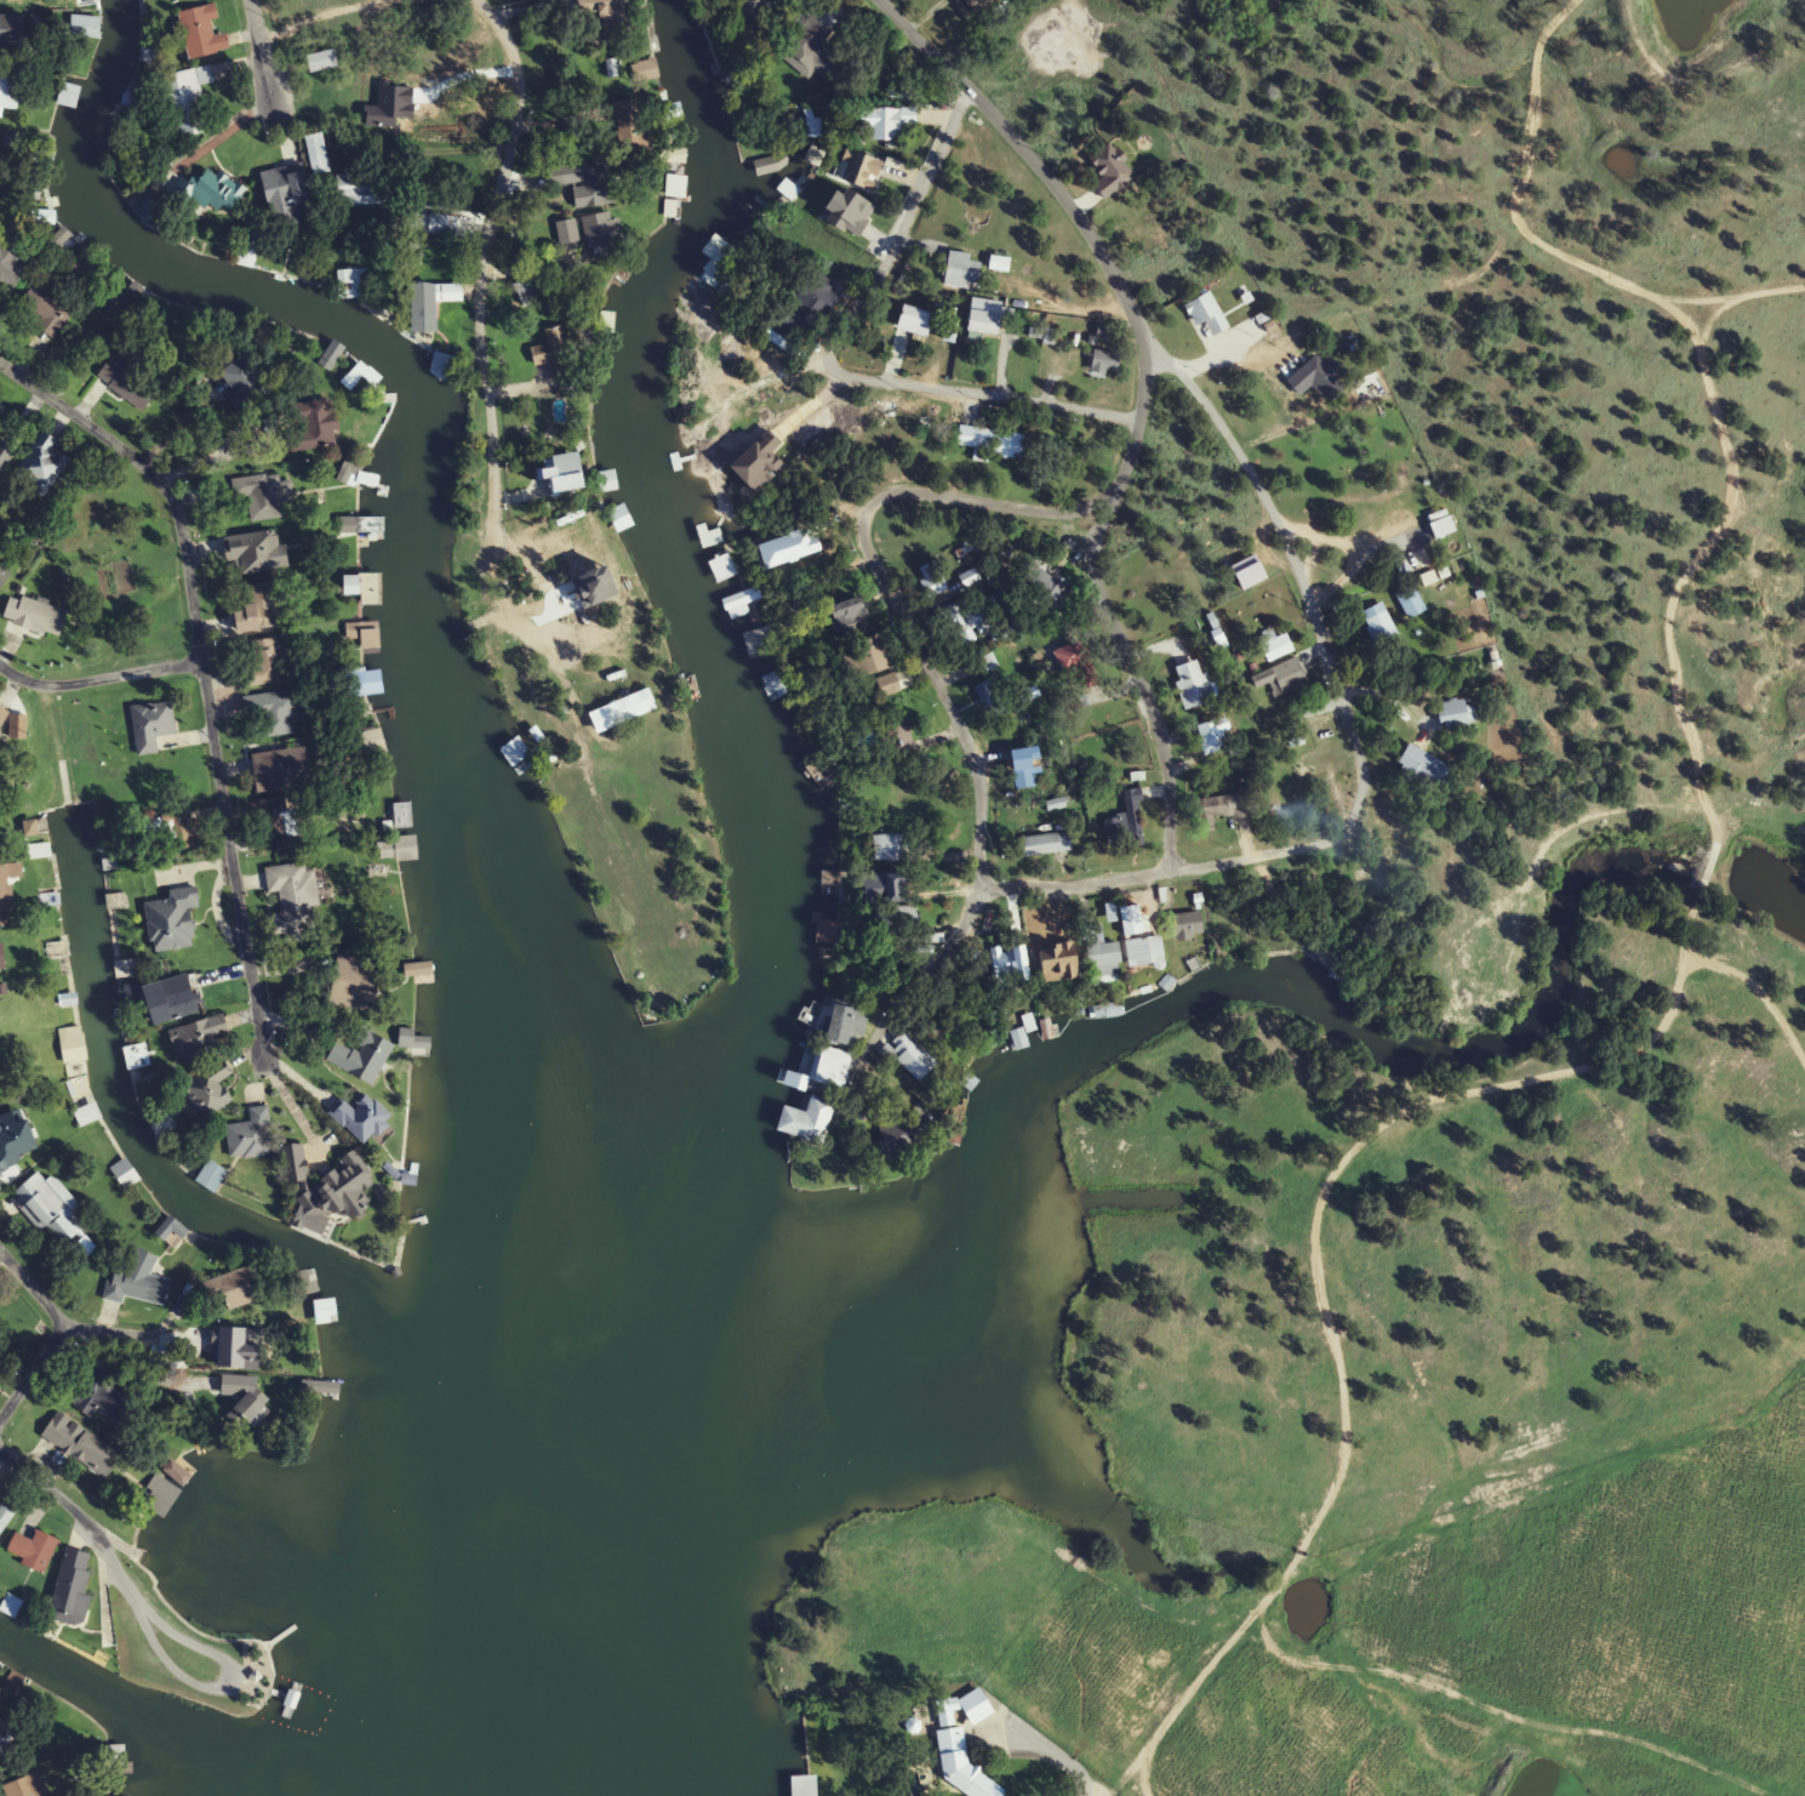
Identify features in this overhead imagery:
building: (976, 5)
building: (753, 7)
building: (607, 15)
building: (85, 28)
building: (11, 32)
building: (201, 33)
road: (258, 55)
building: (813, 58)
building: (322, 61)
building: (8, 91)
building: (63, 101)
building: (188, 101)
road: (1689, 109)
building: (882, 125)
building: (318, 154)
building: (771, 165)
building: (859, 170)
building: (1112, 170)
building: (583, 182)
building: (360, 187)
building: (209, 192)
building: (286, 193)
building: (666, 205)
building: (850, 212)
building: (433, 223)
road: (902, 227)
building: (567, 232)
building: (600, 232)
building: (250, 245)
road: (478, 257)
building: (11, 266)
building: (963, 270)
building: (712, 273)
building: (352, 284)
building: (529, 291)
building: (432, 301)
building: (45, 312)
building: (1207, 315)
building: (987, 318)
building: (916, 321)
building: (792, 329)
building: (554, 350)
building: (1107, 363)
building: (442, 366)
road: (1283, 374)
building: (1321, 376)
building: (130, 378)
building: (246, 383)
building: (1373, 389)
road: (975, 398)
road: (1138, 398)
building: (308, 426)
building: (992, 441)
building: (5, 455)
road: (216, 456)
building: (40, 466)
building: (350, 472)
building: (602, 488)
building: (262, 497)
building: (370, 525)
building: (360, 535)
building: (706, 540)
building: (256, 553)
road: (1360, 563)
building: (1415, 564)
road: (1291, 569)
building: (1, 570)
building: (935, 578)
building: (1046, 585)
building: (362, 598)
building: (1411, 603)
building: (259, 608)
building: (735, 609)
building: (34, 616)
building: (845, 620)
building: (963, 621)
building: (1380, 626)
building: (365, 646)
building: (750, 646)
building: (1267, 646)
building: (868, 657)
building: (265, 662)
building: (979, 667)
building: (1078, 667)
road: (199, 678)
building: (1283, 678)
road: (97, 680)
building: (889, 685)
building: (1193, 685)
building: (372, 689)
building: (773, 690)
building: (989, 696)
building: (274, 711)
building: (623, 711)
building: (1457, 713)
building: (2, 715)
building: (150, 725)
building: (1213, 736)
building: (902, 737)
road: (963, 739)
building: (370, 742)
building: (518, 758)
building: (1022, 769)
building: (1424, 769)
building: (281, 770)
building: (1238, 806)
building: (400, 820)
building: (1127, 823)
building: (276, 825)
building: (170, 826)
building: (1046, 844)
building: (890, 846)
building: (39, 851)
building: (401, 857)
road: (1258, 857)
building: (829, 888)
road: (1072, 890)
building: (7, 891)
building: (292, 899)
building: (896, 919)
building: (172, 922)
building: (1188, 926)
building: (822, 939)
building: (1144, 952)
building: (53, 953)
building: (1046, 953)
building: (1101, 953)
building: (2, 957)
building: (1005, 957)
building: (126, 970)
building: (417, 979)
building: (354, 983)
building: (1, 990)
building: (171, 1000)
building: (65, 1004)
building: (1106, 1015)
building: (844, 1027)
building: (198, 1042)
building: (1017, 1045)
building: (417, 1050)
building: (68, 1056)
building: (361, 1057)
building: (910, 1057)
building: (137, 1066)
building: (833, 1068)
building: (794, 1087)
building: (970, 1088)
building: (210, 1091)
building: (84, 1117)
building: (360, 1118)
building: (161, 1122)
building: (811, 1130)
building: (251, 1136)
building: (908, 1136)
building: (4, 1154)
building: (211, 1176)
building: (124, 1179)
building: (325, 1190)
building: (48, 1205)
building: (170, 1235)
building: (137, 1281)
building: (232, 1289)
road: (116, 1315)
building: (324, 1316)
road: (57, 1338)
building: (232, 1346)
building: (326, 1358)
building: (102, 1395)
building: (242, 1396)
building: (329, 1396)
building: (80, 1444)
building: (177, 1473)
building: (160, 1498)
road: (73, 1516)
building: (5, 1517)
building: (33, 1550)
building: (72, 1591)
road: (221, 1682)
building: (289, 1709)
building: (2, 1729)
building: (963, 1745)
building: (0, 1756)
building: (25, 1786)
building: (800, 1789)
road: (1083, 1794)

